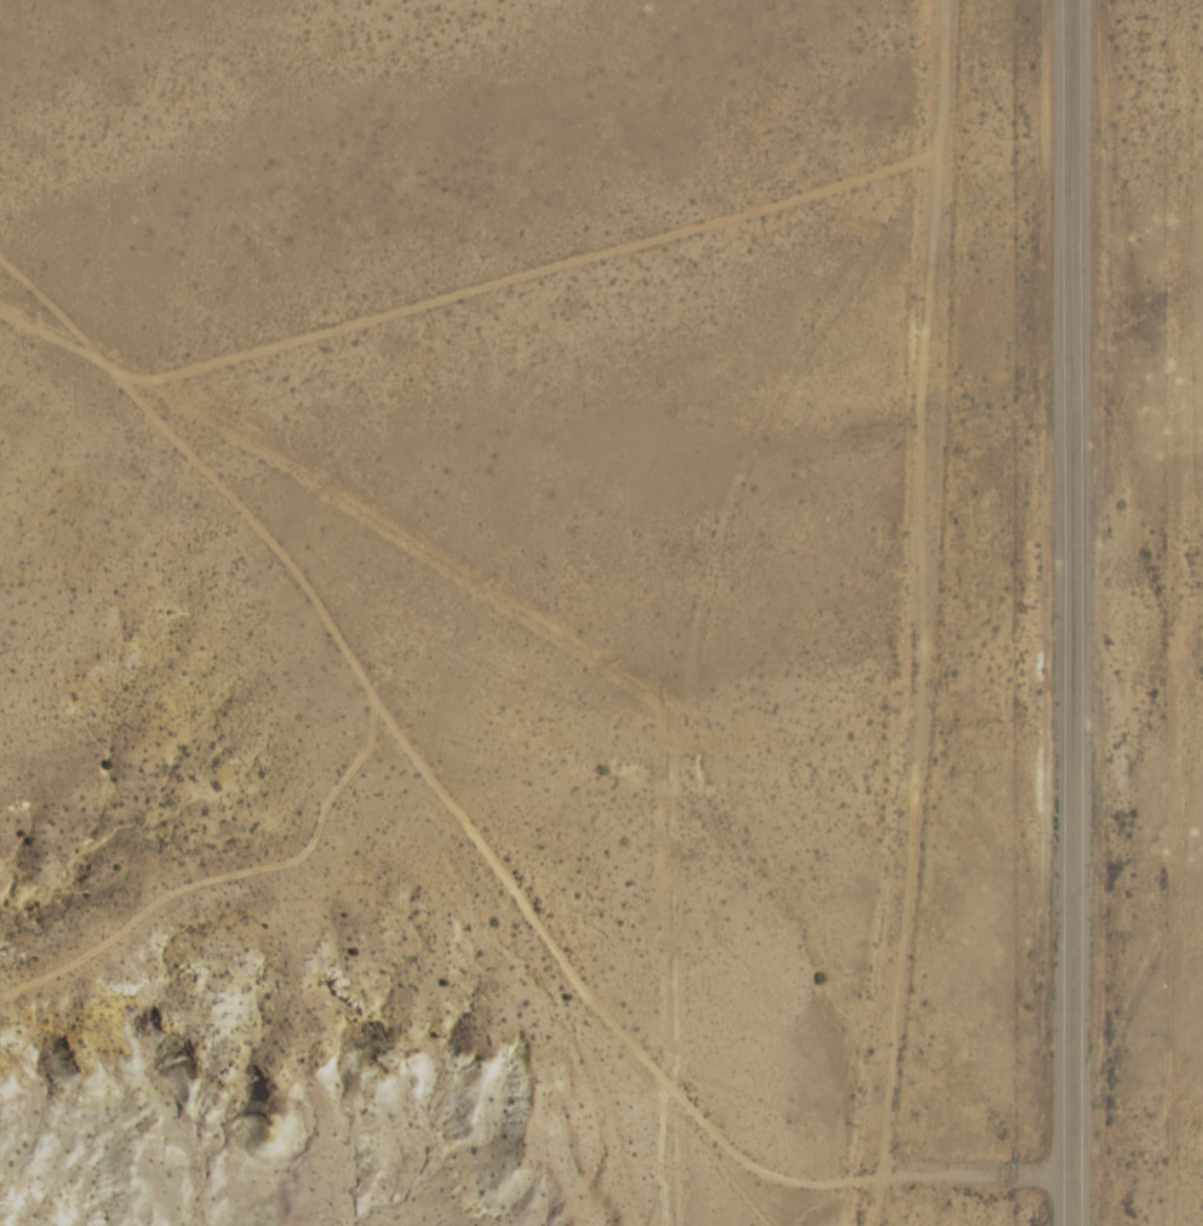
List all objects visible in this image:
road: (920, 613)
road: (1101, 613)
road: (469, 895)
road: (636, 1191)

